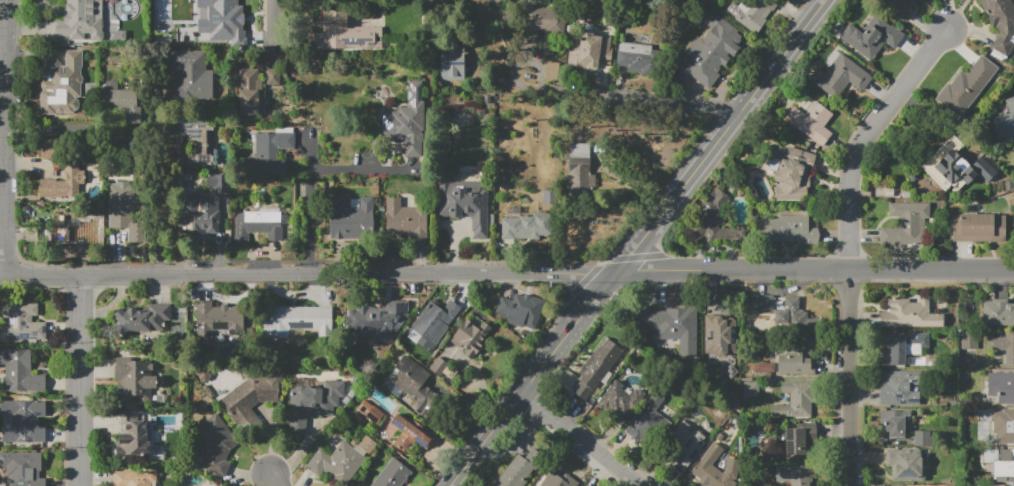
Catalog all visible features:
building: (897, 7)
building: (752, 13)
road: (957, 14)
building: (223, 15)
building: (81, 20)
building: (541, 22)
building: (1001, 23)
road: (274, 28)
building: (348, 32)
building: (871, 35)
road: (2, 50)
building: (589, 50)
building: (710, 53)
building: (634, 55)
building: (453, 63)
building: (551, 70)
building: (190, 75)
building: (271, 76)
building: (840, 76)
building: (61, 84)
building: (966, 86)
building: (250, 93)
road: (644, 96)
building: (124, 102)
building: (406, 117)
building: (1005, 120)
building: (812, 122)
road: (3, 135)
road: (865, 136)
building: (197, 138)
building: (270, 152)
building: (955, 166)
building: (579, 169)
road: (366, 170)
building: (794, 172)
building: (75, 173)
building: (217, 182)
building: (465, 203)
road: (311, 205)
building: (126, 209)
building: (202, 215)
building: (351, 216)
building: (405, 219)
building: (713, 221)
building: (906, 224)
building: (260, 225)
building: (526, 226)
building: (979, 227)
building: (788, 230)
building: (78, 232)
road: (158, 237)
road: (637, 243)
road: (507, 272)
building: (521, 309)
building: (998, 313)
building: (787, 314)
building: (910, 314)
building: (142, 318)
building: (220, 318)
building: (297, 321)
building: (375, 321)
building: (23, 323)
building: (434, 323)
building: (664, 330)
building: (718, 335)
building: (470, 337)
building: (968, 339)
building: (904, 345)
building: (1003, 346)
building: (797, 359)
building: (596, 367)
building: (21, 372)
road: (81, 378)
road: (849, 378)
building: (137, 381)
building: (414, 384)
building: (749, 388)
building: (900, 388)
building: (1001, 388)
building: (252, 399)
building: (619, 400)
building: (795, 401)
building: (312, 403)
building: (368, 413)
building: (648, 420)
building: (24, 421)
building: (894, 423)
building: (1007, 426)
building: (410, 434)
building: (132, 437)
building: (922, 437)
building: (796, 439)
road: (581, 440)
building: (216, 446)
building: (678, 449)
building: (342, 459)
building: (1000, 463)
building: (905, 465)
building: (22, 468)
building: (518, 469)
building: (393, 474)
building: (711, 474)
building: (793, 474)
building: (135, 478)
building: (559, 480)
road: (274, 481)
building: (587, 485)
building: (997, 485)

